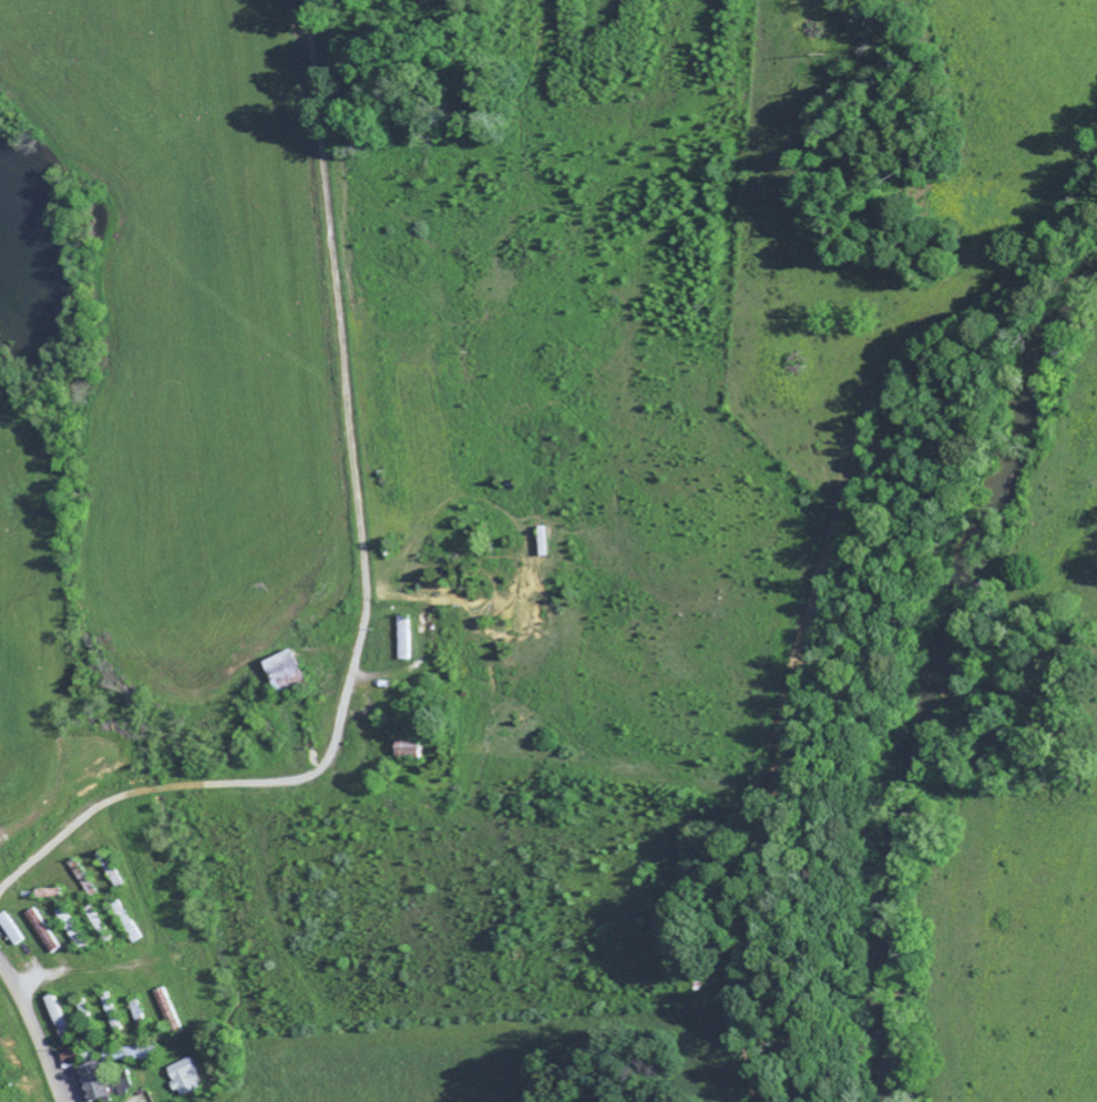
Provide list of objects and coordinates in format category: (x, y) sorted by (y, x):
building: (286, 674)
building: (408, 752)
road: (219, 785)
building: (11, 932)
road: (38, 1031)
building: (133, 1057)
building: (70, 1062)
building: (185, 1081)
building: (98, 1083)

